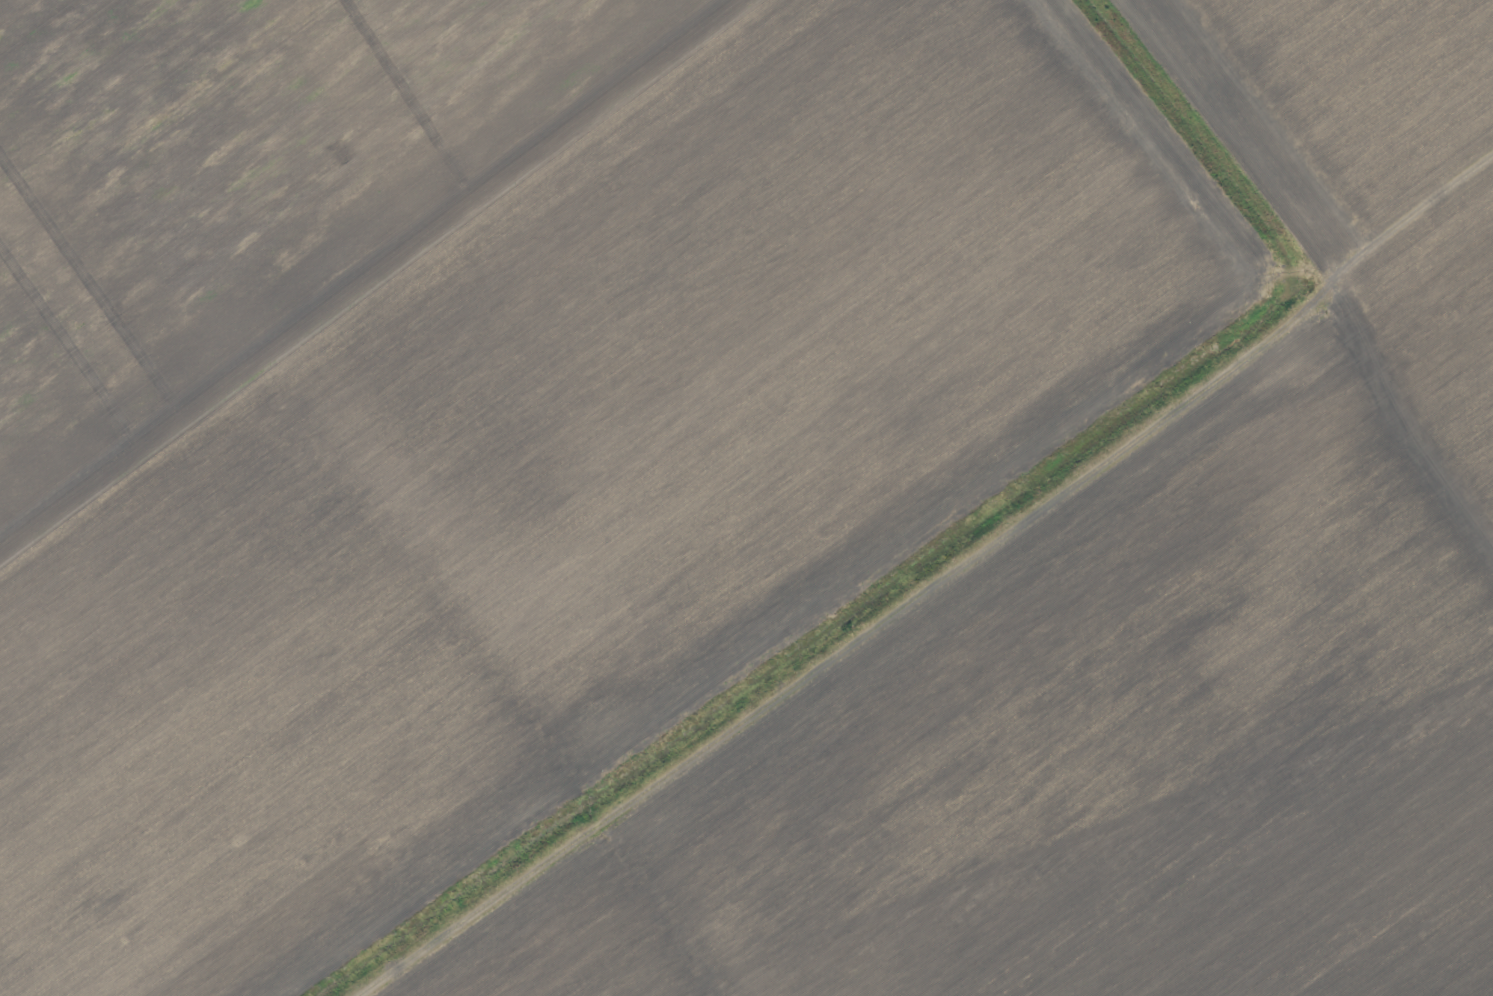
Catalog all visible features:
road: (1317, 187)
road: (1400, 426)
road: (872, 631)

